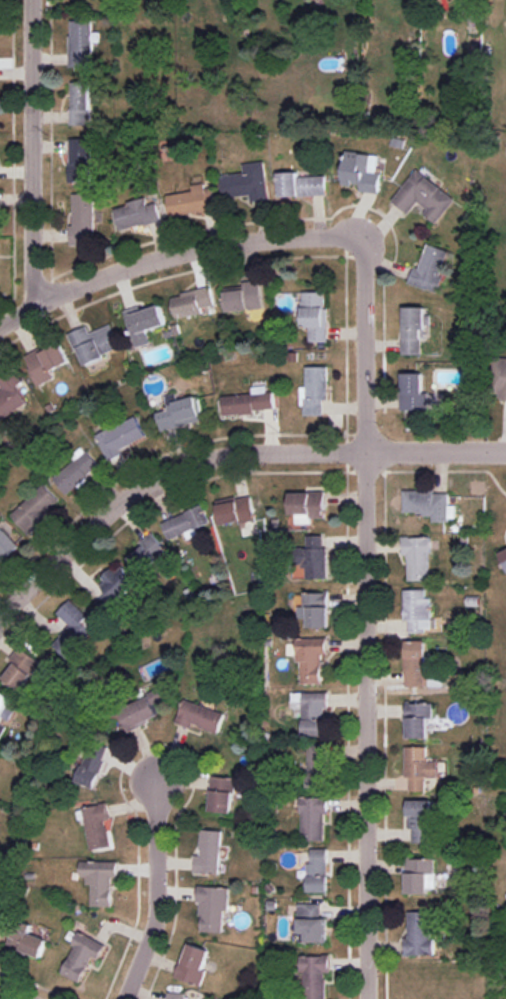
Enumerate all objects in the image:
building: (81, 43)
building: (81, 103)
road: (32, 148)
building: (80, 160)
building: (361, 171)
building: (247, 182)
building: (300, 185)
building: (423, 196)
building: (192, 201)
building: (136, 214)
building: (83, 220)
road: (175, 252)
building: (429, 269)
building: (245, 297)
building: (192, 302)
building: (315, 315)
building: (144, 322)
building: (414, 329)
building: (94, 343)
building: (45, 362)
building: (501, 379)
building: (314, 391)
building: (413, 392)
building: (10, 393)
building: (249, 402)
building: (180, 413)
building: (121, 436)
road: (226, 453)
building: (76, 471)
building: (430, 505)
building: (307, 506)
building: (35, 509)
building: (236, 511)
building: (186, 523)
building: (6, 543)
building: (148, 553)
building: (503, 554)
building: (314, 557)
building: (417, 557)
building: (115, 587)
building: (315, 609)
building: (418, 611)
road: (366, 618)
building: (73, 629)
building: (311, 659)
building: (415, 663)
building: (25, 669)
building: (5, 711)
building: (141, 711)
building: (314, 714)
building: (200, 716)
building: (418, 720)
building: (92, 764)
building: (317, 765)
building: (419, 768)
building: (222, 794)
building: (313, 818)
building: (420, 820)
building: (97, 826)
building: (209, 852)
building: (317, 871)
building: (420, 875)
building: (99, 881)
road: (153, 893)
building: (212, 908)
building: (311, 922)
building: (419, 934)
building: (27, 940)
building: (81, 956)
building: (193, 964)
building: (315, 976)
road: (11, 994)
building: (176, 995)

